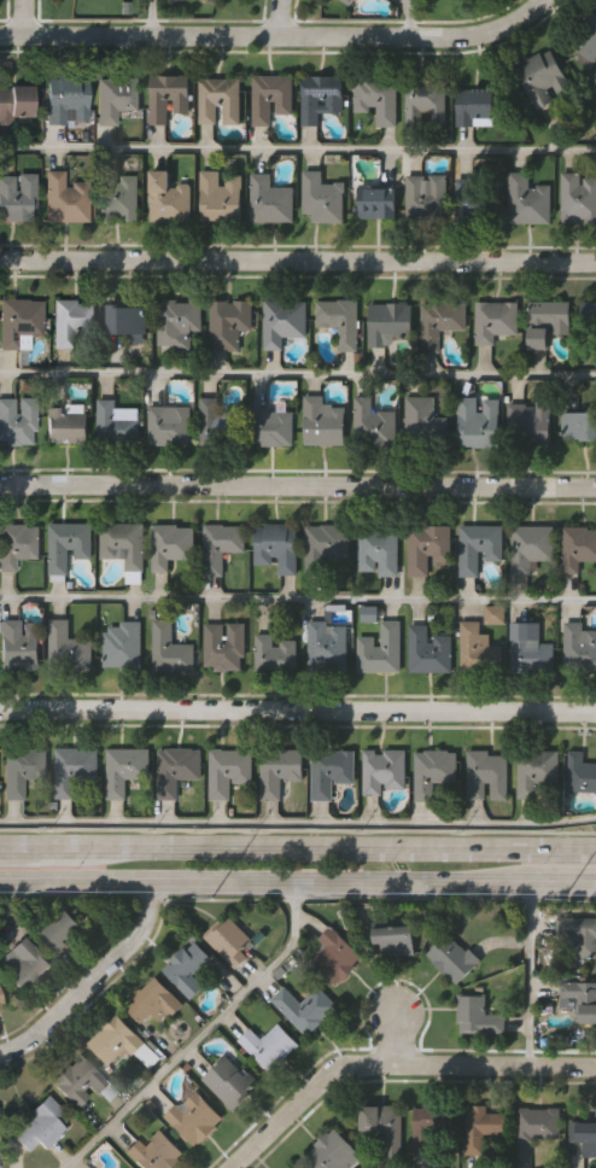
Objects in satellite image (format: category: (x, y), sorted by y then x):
building: (214, 0)
building: (468, 0)
building: (347, 2)
building: (594, 2)
road: (24, 17)
road: (154, 17)
road: (409, 17)
road: (281, 18)
road: (274, 35)
building: (586, 40)
building: (543, 77)
building: (166, 98)
building: (270, 98)
building: (319, 98)
building: (375, 99)
building: (66, 101)
building: (14, 103)
building: (110, 103)
building: (218, 103)
building: (425, 105)
building: (475, 109)
road: (298, 150)
building: (117, 197)
building: (220, 197)
building: (425, 197)
building: (17, 198)
building: (168, 198)
building: (64, 199)
building: (474, 199)
building: (578, 199)
building: (320, 200)
building: (269, 202)
building: (527, 202)
building: (376, 203)
road: (298, 259)
building: (70, 321)
building: (124, 321)
building: (339, 321)
building: (282, 322)
building: (439, 322)
building: (496, 322)
building: (547, 322)
building: (19, 323)
building: (179, 325)
building: (228, 325)
building: (387, 325)
building: (590, 326)
road: (298, 375)
building: (17, 422)
building: (422, 422)
building: (211, 424)
building: (322, 424)
building: (477, 424)
building: (64, 425)
building: (115, 425)
building: (372, 425)
building: (528, 425)
building: (169, 427)
building: (579, 427)
building: (269, 428)
road: (298, 484)
building: (17, 545)
building: (122, 545)
building: (170, 545)
building: (66, 547)
building: (220, 547)
building: (276, 548)
building: (478, 548)
building: (530, 548)
building: (577, 548)
building: (327, 549)
building: (427, 549)
building: (380, 553)
road: (298, 600)
building: (484, 644)
building: (18, 646)
building: (122, 647)
building: (223, 648)
building: (327, 648)
building: (66, 649)
building: (530, 649)
building: (578, 649)
building: (380, 650)
building: (169, 652)
building: (428, 652)
building: (275, 655)
road: (298, 709)
building: (22, 771)
building: (72, 771)
building: (123, 771)
building: (382, 771)
building: (227, 772)
building: (277, 772)
building: (329, 772)
building: (179, 775)
building: (433, 775)
building: (580, 775)
building: (537, 776)
building: (486, 777)
road: (298, 827)
road: (298, 845)
road: (259, 878)
road: (557, 882)
building: (58, 930)
building: (583, 938)
building: (229, 940)
building: (393, 940)
building: (334, 956)
building: (451, 957)
building: (25, 963)
building: (186, 969)
road: (530, 974)
road: (98, 983)
building: (579, 1000)
building: (152, 1001)
building: (0, 1008)
building: (303, 1008)
building: (477, 1016)
road: (203, 1033)
road: (399, 1035)
building: (113, 1044)
building: (267, 1045)
road: (396, 1065)
building: (77, 1081)
building: (228, 1082)
building: (192, 1117)
building: (39, 1125)
building: (537, 1125)
building: (480, 1127)
building: (382, 1128)
building: (425, 1129)
building: (584, 1134)
building: (152, 1152)
building: (332, 1152)
building: (296, 1167)
building: (299, 1167)

